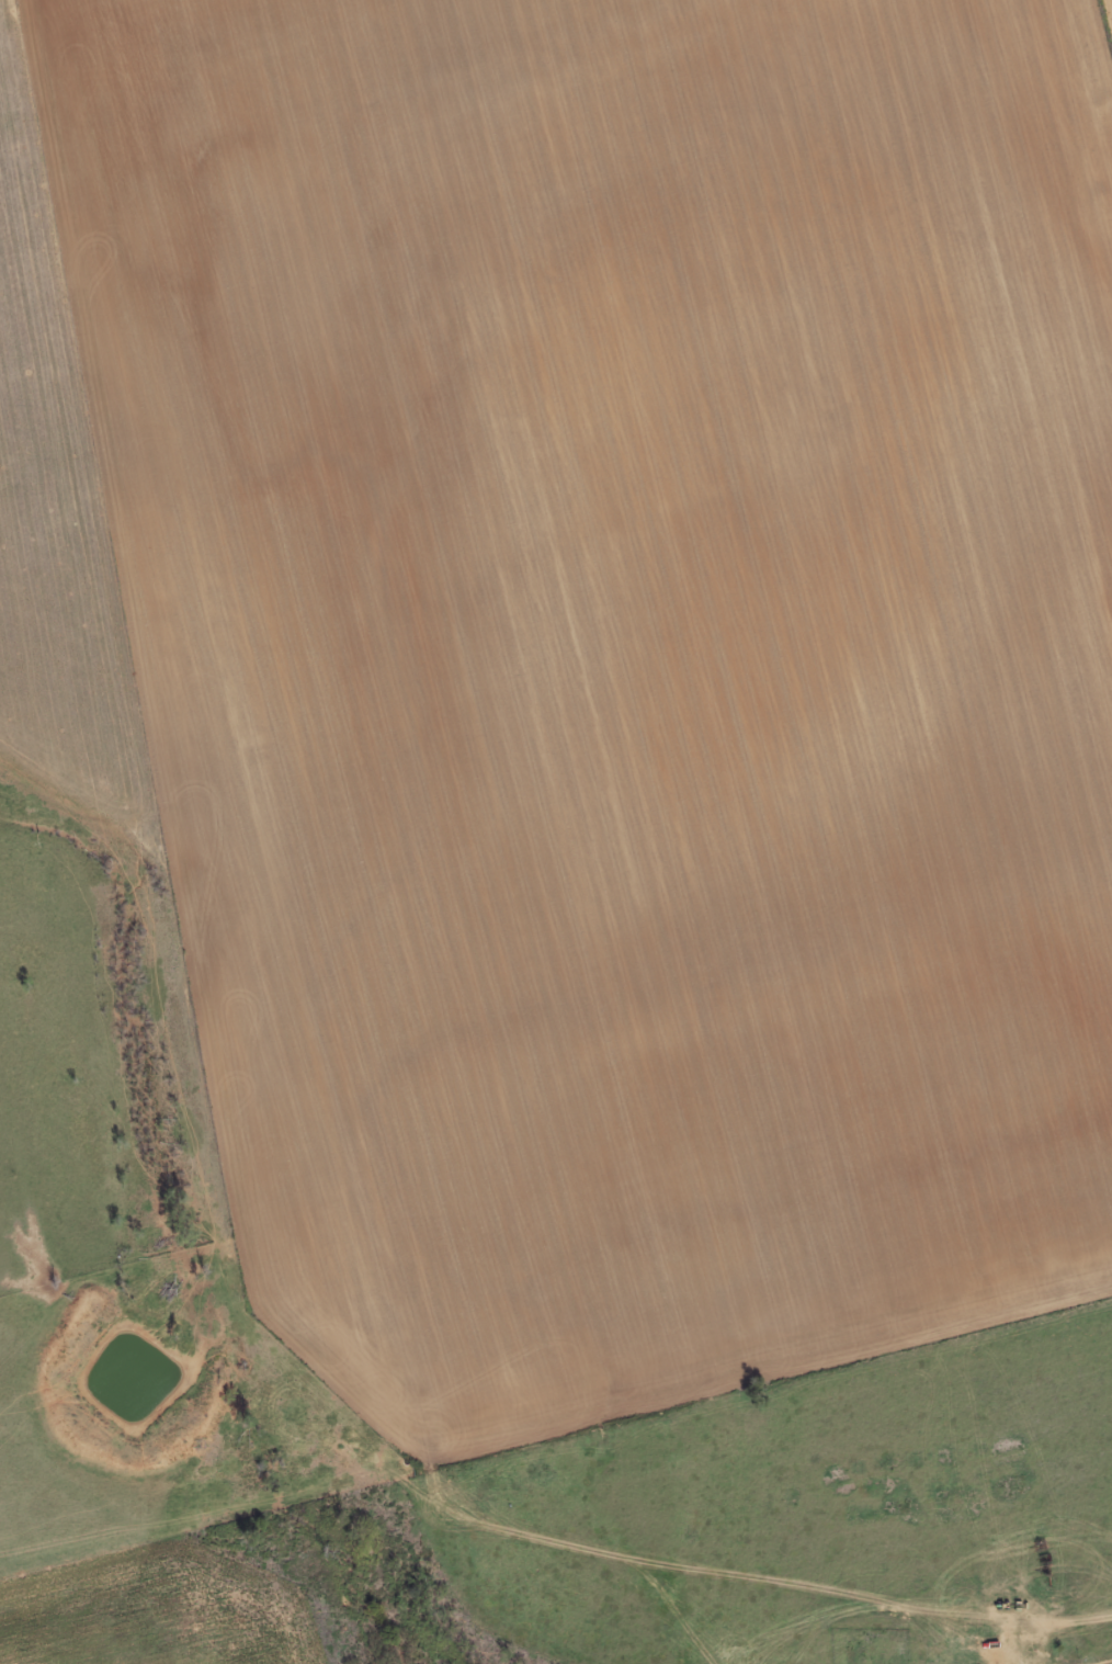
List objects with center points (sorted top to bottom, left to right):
road: (1111, 0)
road: (1088, 1655)

